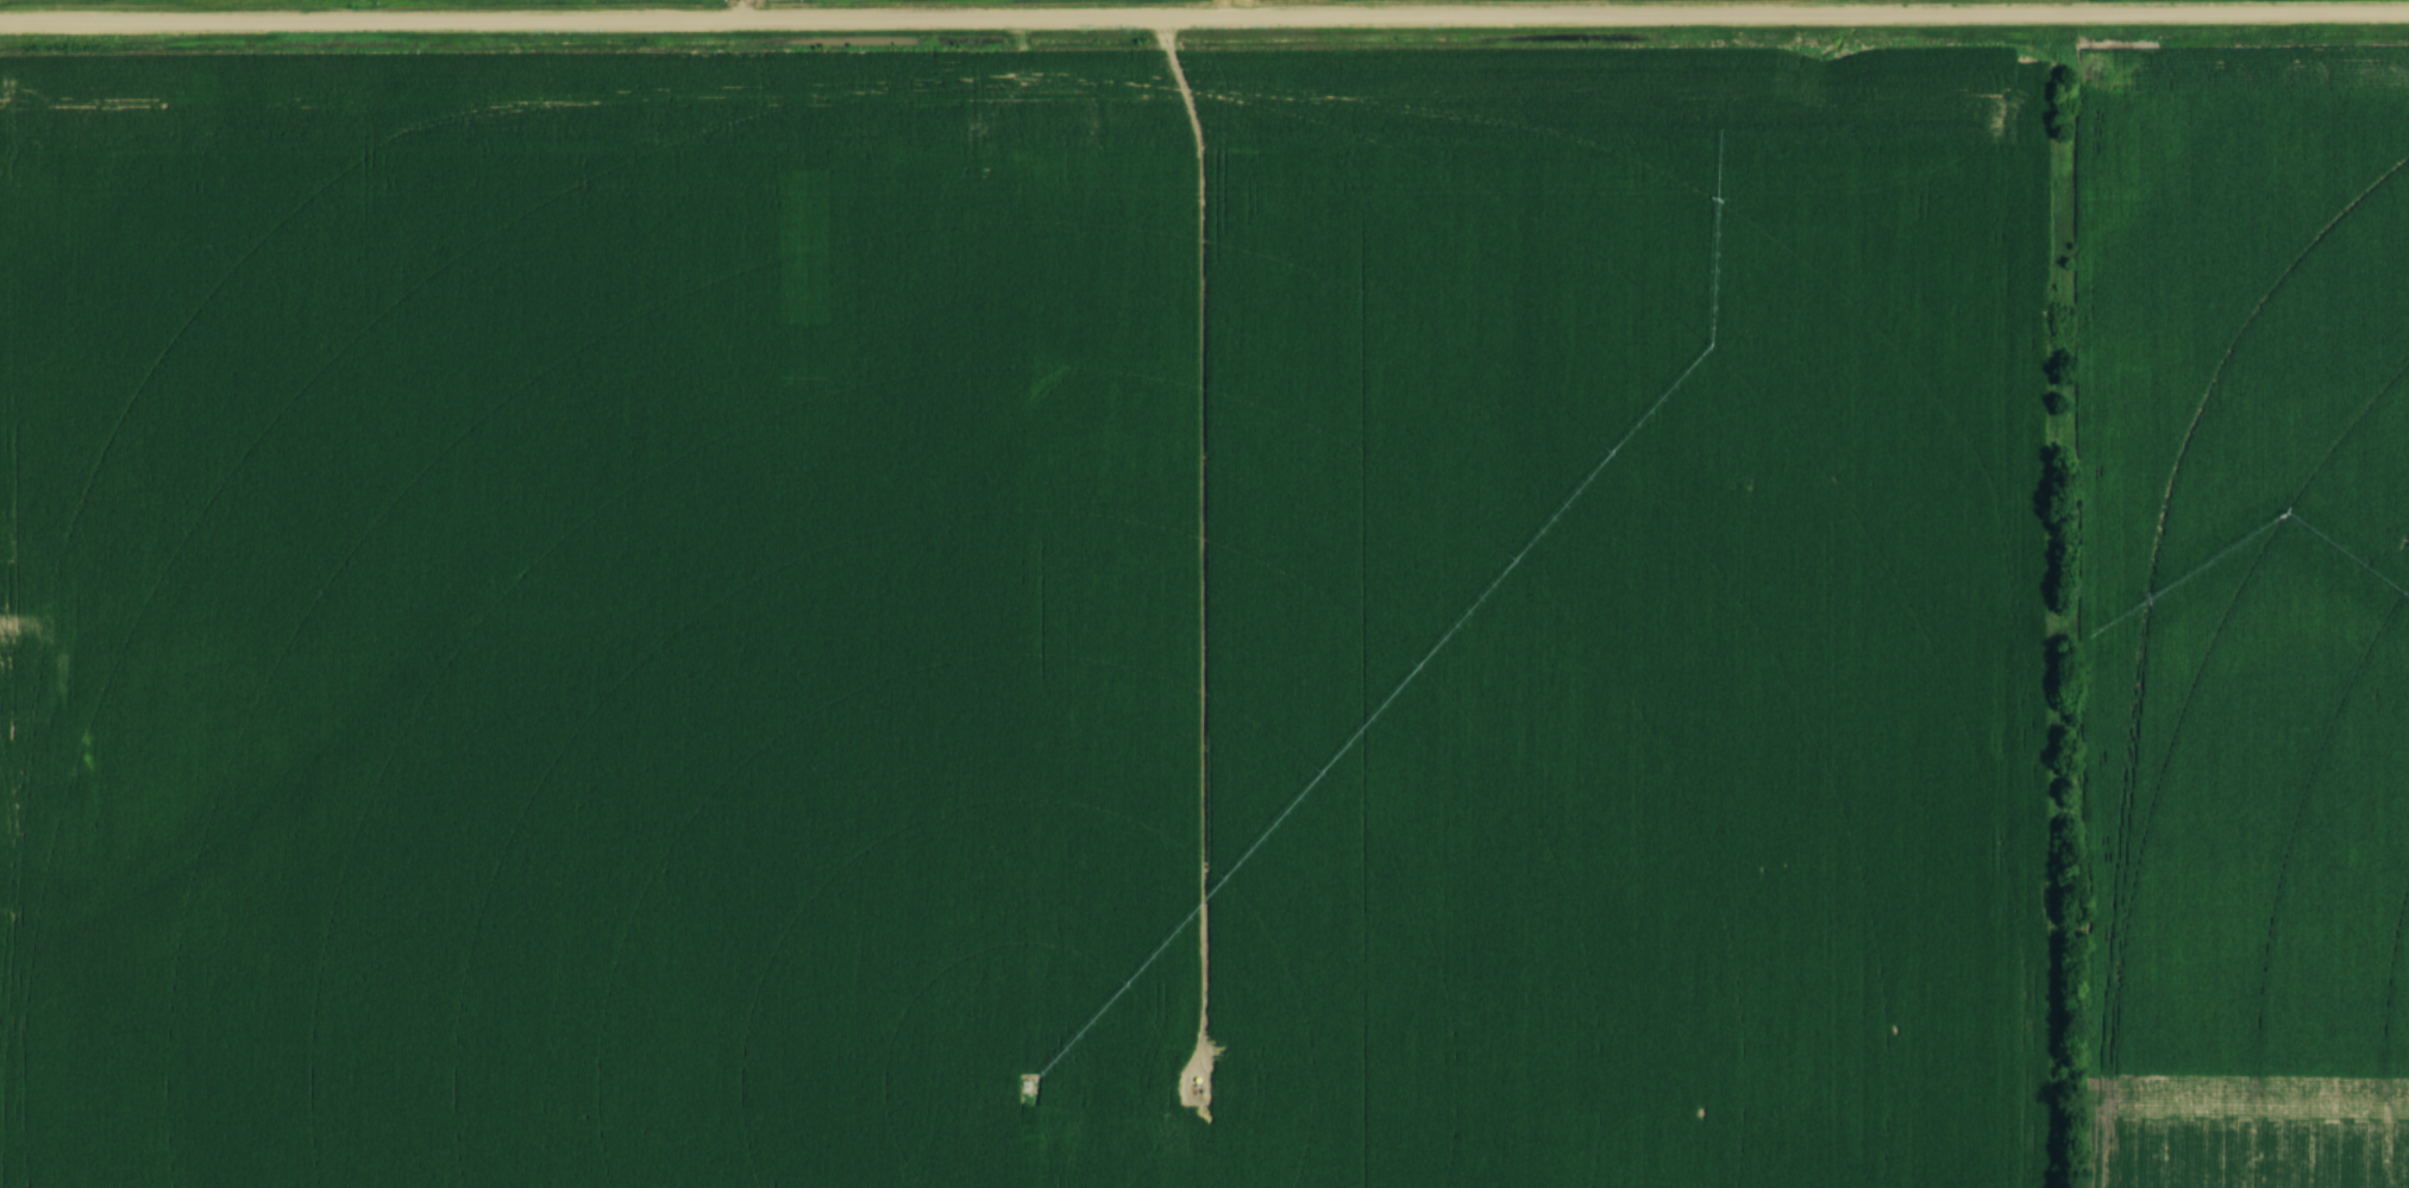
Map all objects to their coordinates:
road: (1204, 23)

